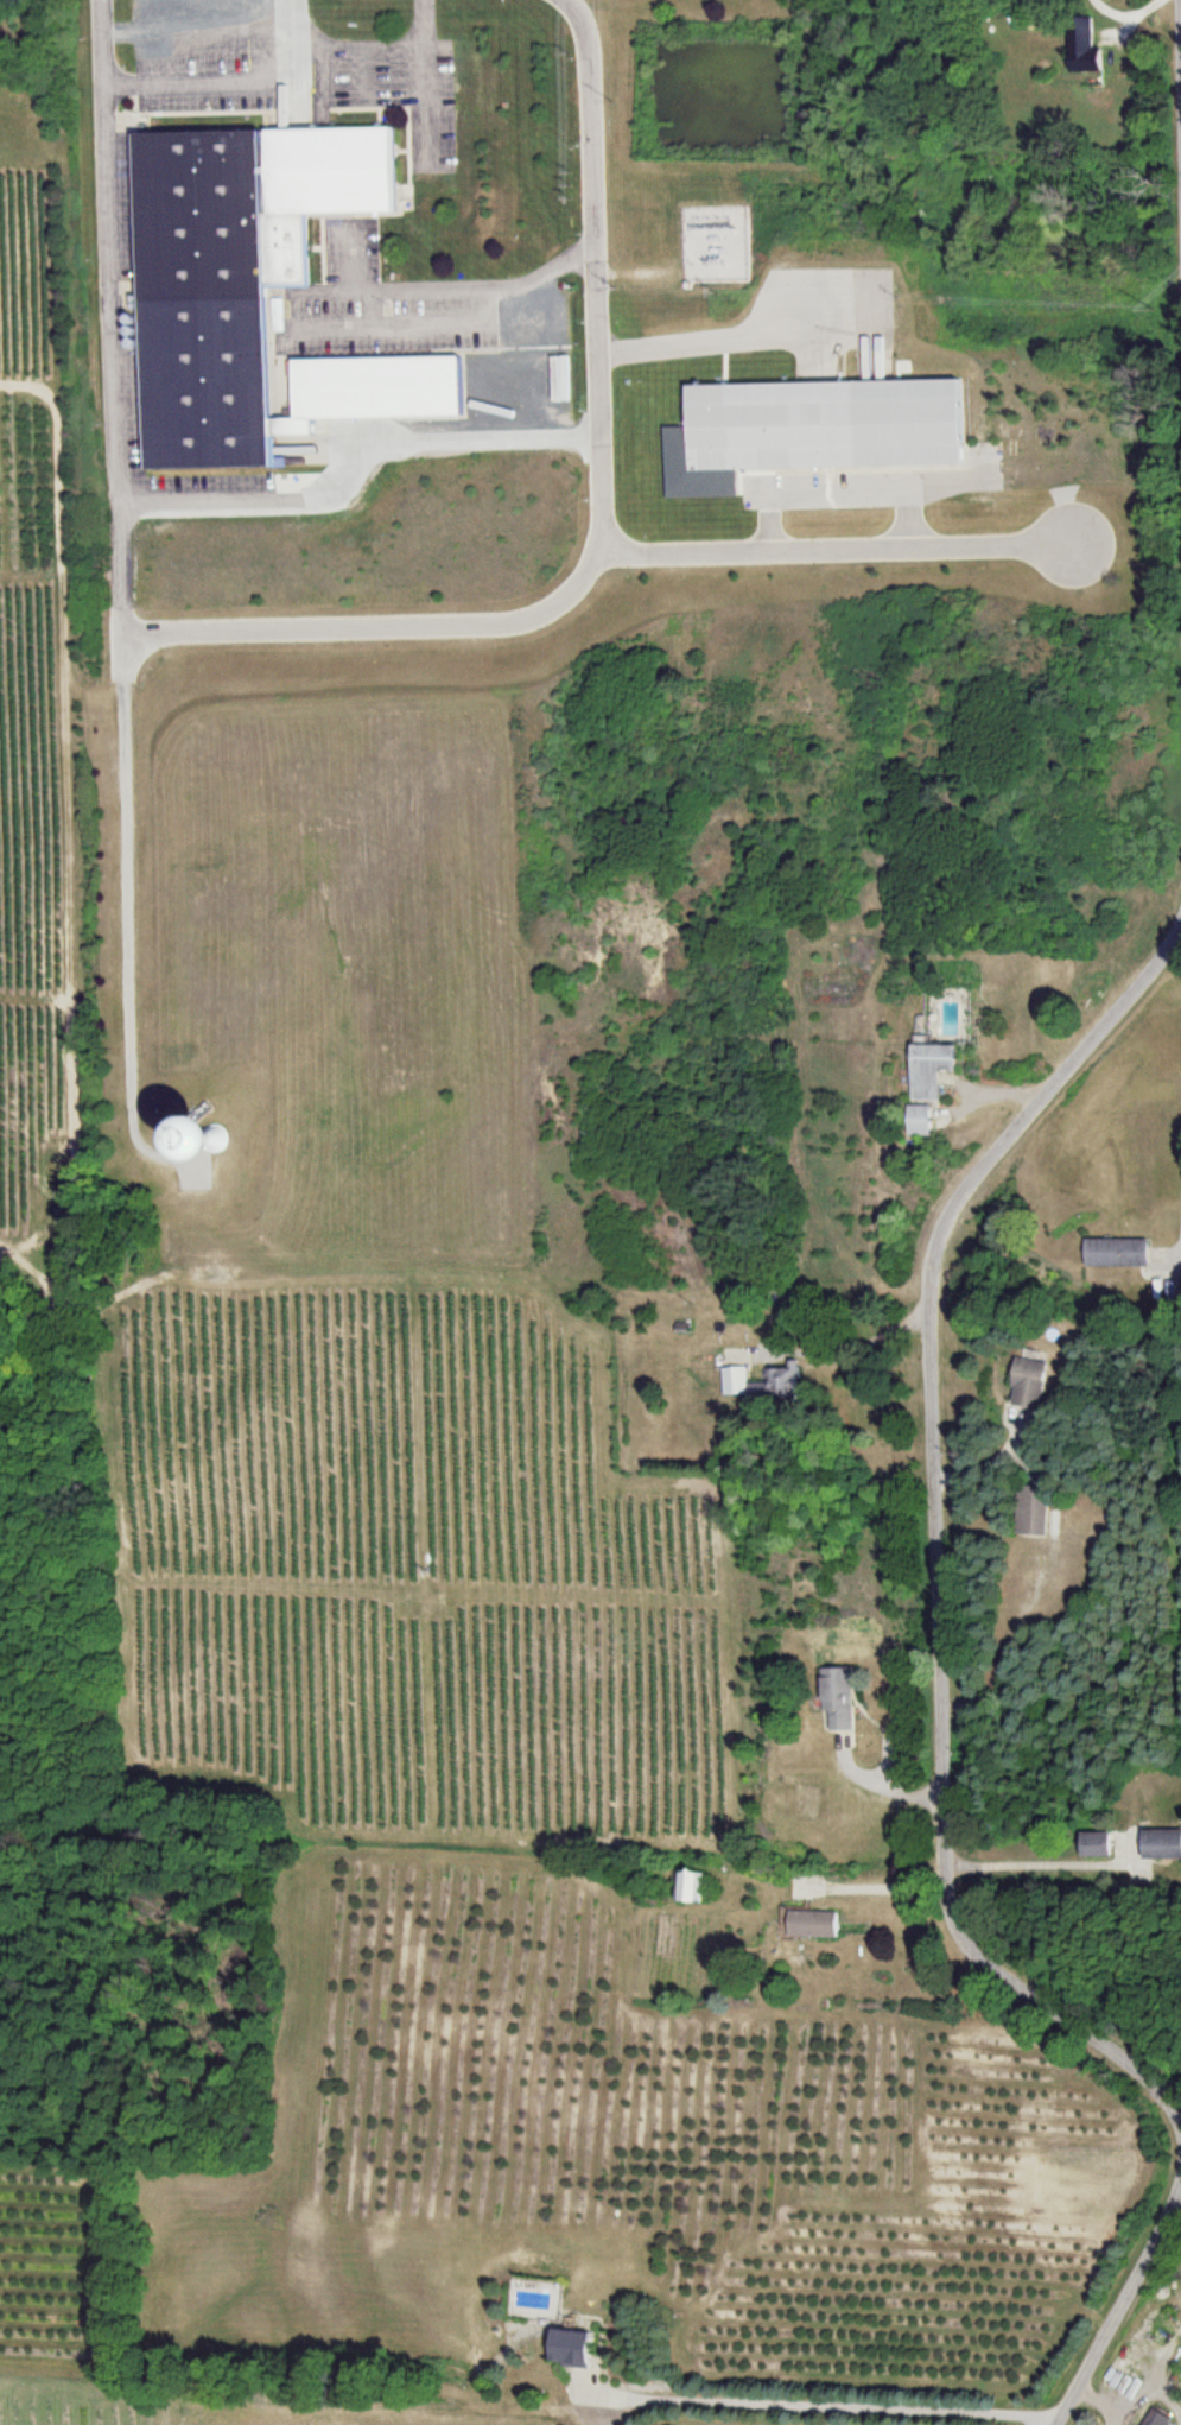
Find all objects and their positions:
building: (1086, 51)
road: (1179, 70)
road: (227, 83)
road: (593, 271)
building: (236, 276)
road: (447, 290)
road: (739, 336)
building: (375, 393)
building: (813, 433)
road: (115, 506)
road: (836, 551)
road: (388, 629)
building: (934, 1071)
building: (922, 1122)
building: (243, 1138)
building: (1119, 1254)
building: (1041, 1385)
building: (758, 1386)
building: (1034, 1511)
road: (929, 1536)
building: (842, 1701)
building: (1098, 1847)
building: (1164, 1847)
building: (693, 1888)
building: (815, 1926)
road: (1118, 2303)
building: (574, 2350)
building: (1156, 2418)

